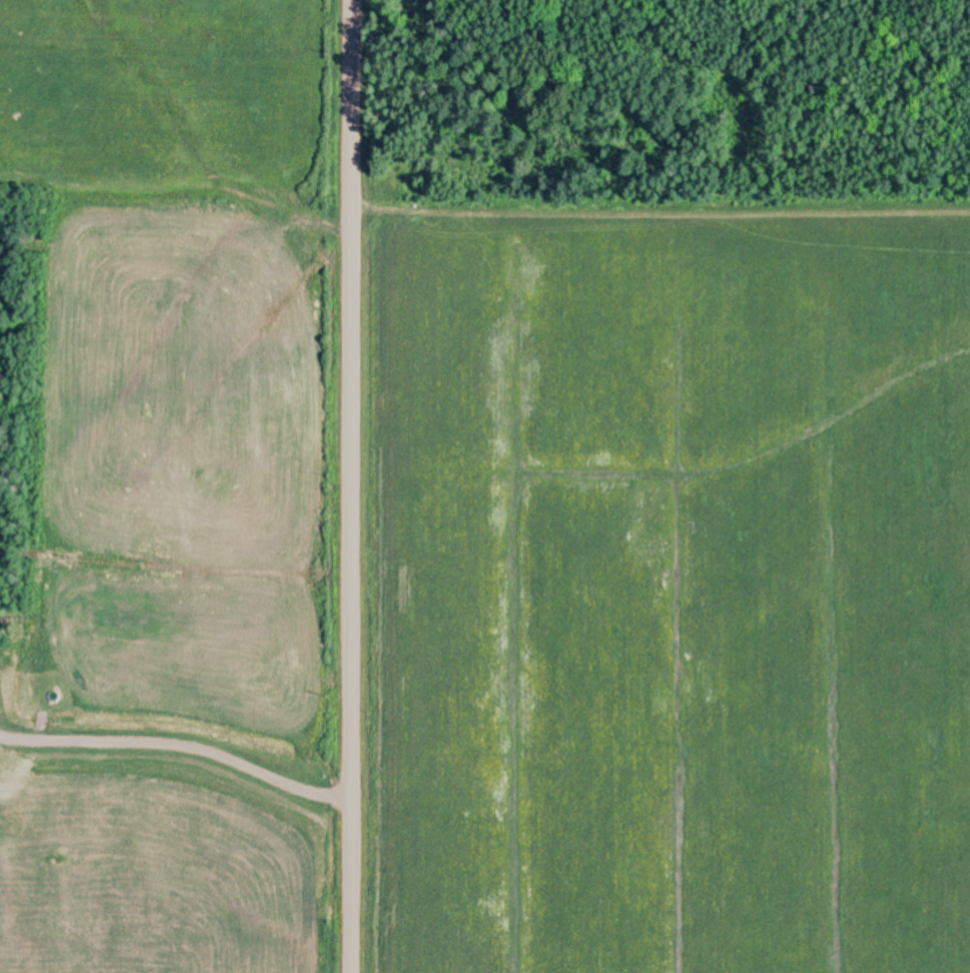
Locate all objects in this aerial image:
road: (350, 486)
crop: (665, 585)

